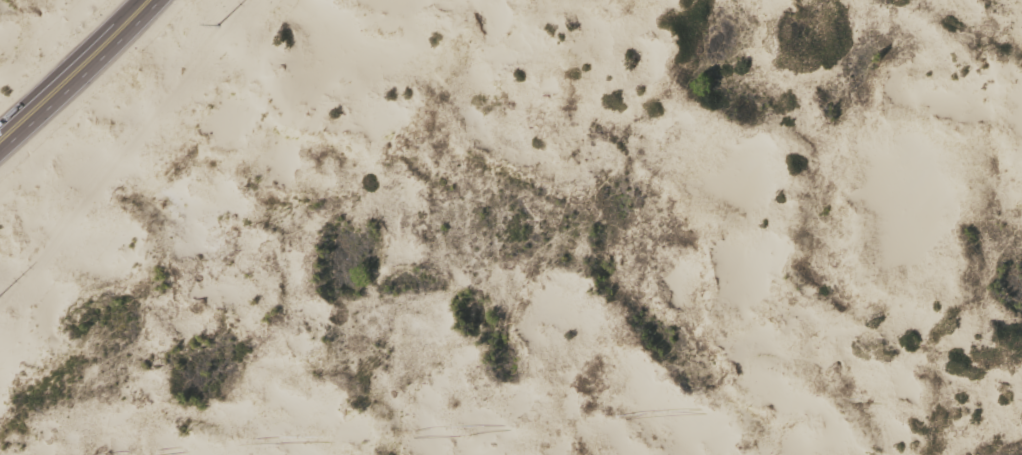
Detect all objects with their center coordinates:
power tower: (231, 39)
road: (79, 73)
power tower: (3, 316)

